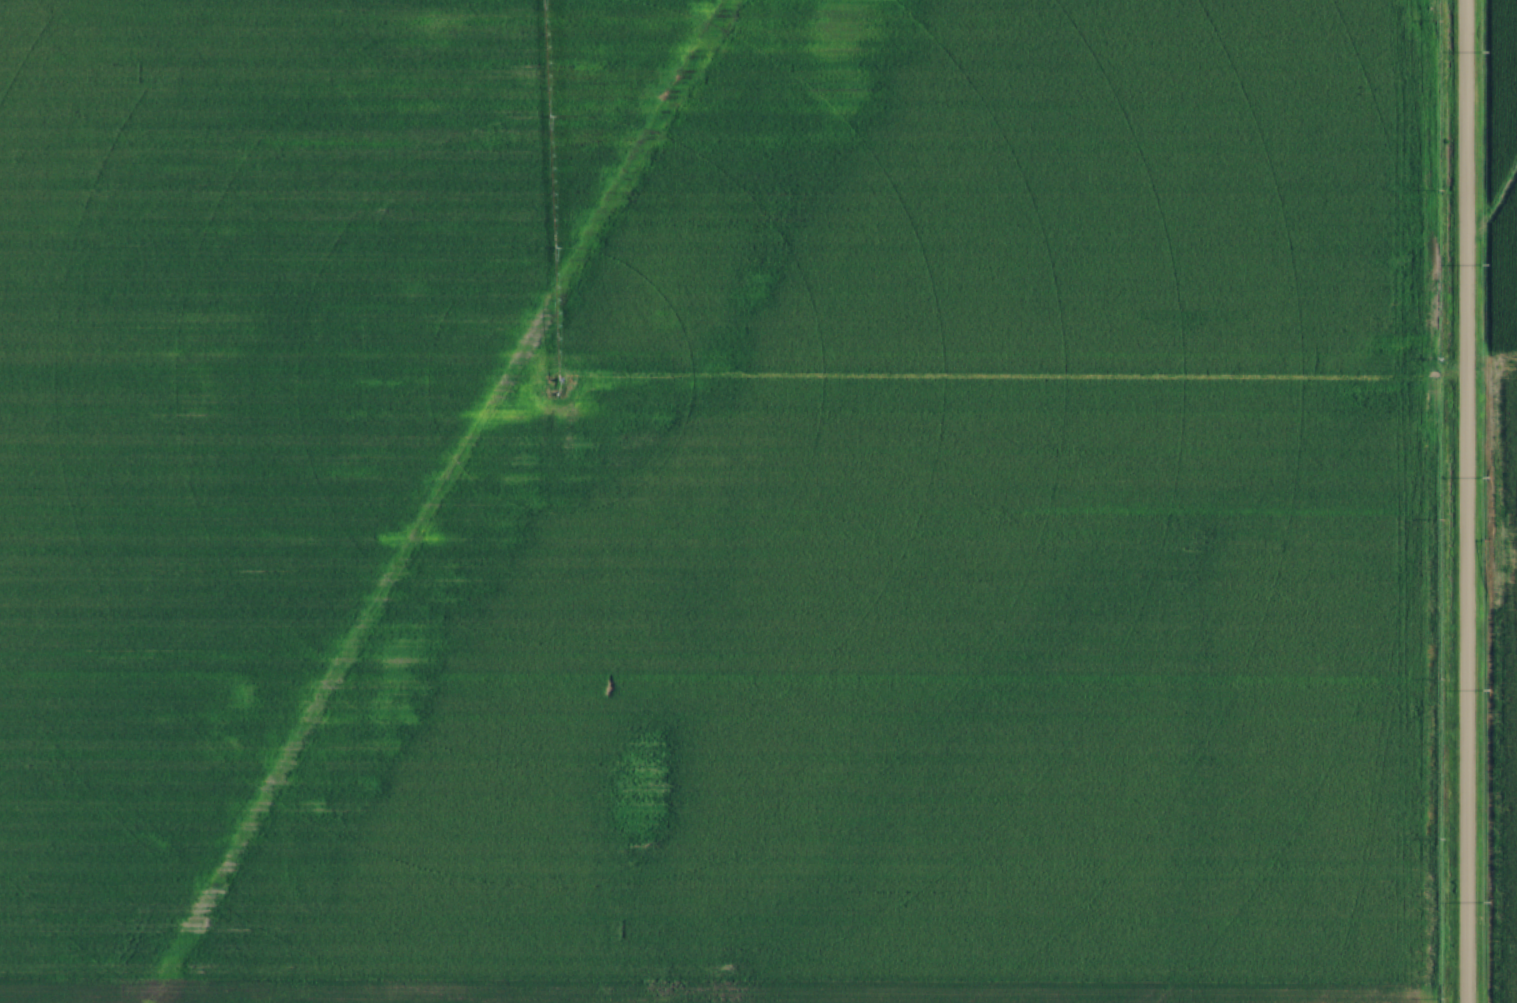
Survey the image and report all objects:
road: (1462, 501)

